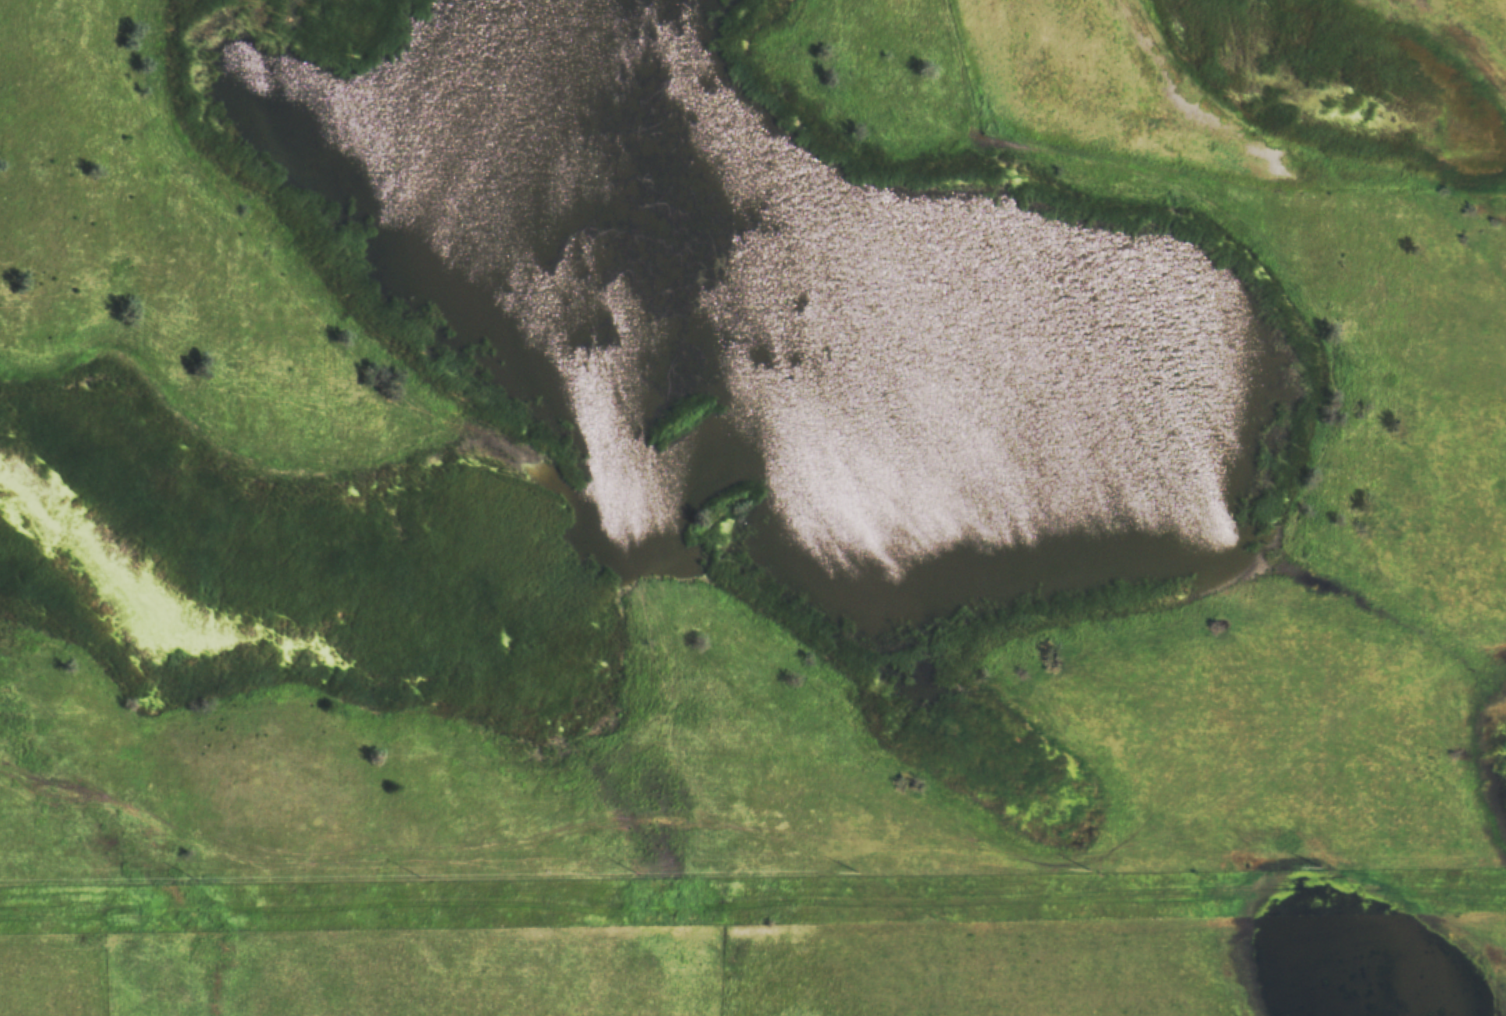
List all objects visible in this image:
road: (753, 898)

